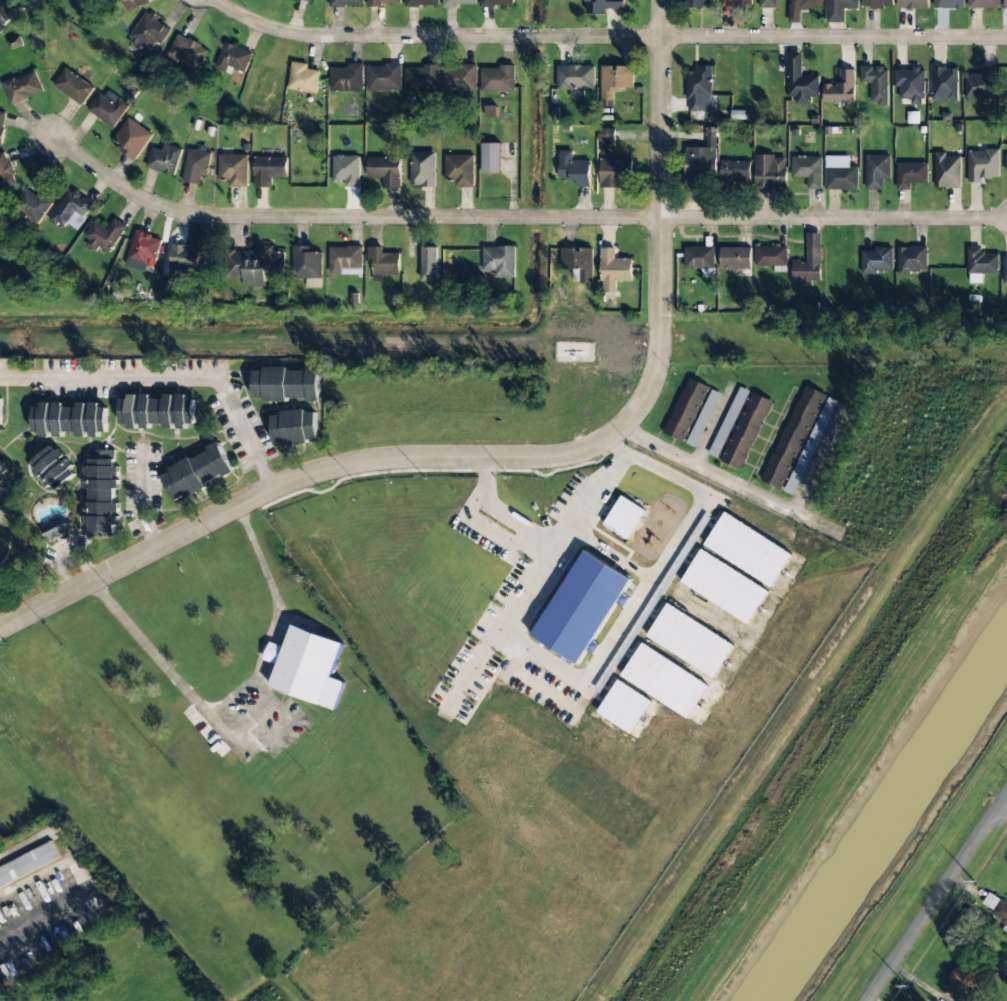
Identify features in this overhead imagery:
building: (307, 0)
building: (381, 2)
building: (736, 2)
building: (136, 3)
building: (346, 3)
building: (421, 3)
building: (457, 3)
building: (497, 3)
building: (695, 3)
building: (877, 3)
building: (948, 3)
building: (767, 4)
building: (912, 4)
building: (984, 4)
building: (1005, 4)
building: (604, 5)
building: (838, 9)
building: (5, 15)
building: (795, 15)
building: (148, 32)
road: (610, 36)
building: (14, 42)
building: (187, 52)
building: (234, 58)
building: (383, 77)
building: (303, 78)
building: (347, 78)
building: (440, 78)
building: (497, 79)
building: (575, 79)
building: (800, 81)
building: (614, 82)
building: (876, 84)
building: (910, 84)
building: (945, 84)
building: (981, 84)
building: (73, 86)
building: (23, 87)
building: (840, 88)
building: (699, 89)
building: (107, 108)
building: (490, 110)
building: (2, 125)
building: (132, 139)
building: (491, 158)
building: (164, 159)
building: (700, 160)
building: (611, 163)
building: (1006, 163)
building: (982, 165)
building: (196, 166)
building: (422, 168)
building: (233, 169)
building: (574, 169)
building: (268, 170)
building: (346, 170)
building: (385, 170)
building: (459, 170)
building: (808, 170)
building: (735, 171)
building: (770, 171)
building: (876, 171)
building: (947, 171)
building: (6, 173)
building: (840, 174)
building: (910, 174)
building: (32, 202)
building: (70, 208)
road: (518, 216)
building: (104, 235)
building: (144, 249)
building: (771, 256)
building: (735, 258)
building: (699, 259)
building: (912, 259)
building: (184, 260)
building: (346, 260)
building: (499, 260)
building: (877, 260)
building: (383, 261)
building: (307, 262)
building: (809, 262)
building: (429, 263)
building: (578, 264)
building: (981, 264)
building: (257, 266)
building: (1005, 269)
building: (613, 270)
building: (164, 292)
road: (171, 375)
building: (286, 384)
building: (686, 409)
building: (0, 411)
building: (157, 411)
building: (703, 418)
building: (69, 419)
building: (295, 427)
building: (746, 431)
building: (793, 437)
building: (810, 446)
road: (514, 457)
building: (52, 469)
building: (3, 472)
building: (197, 473)
building: (101, 491)
building: (624, 517)
building: (57, 532)
building: (0, 545)
building: (0, 547)
building: (748, 549)
building: (724, 586)
building: (582, 607)
building: (690, 640)
building: (306, 667)
building: (648, 670)
road: (1005, 804)
building: (28, 865)
road: (937, 899)
building: (995, 906)
building: (963, 978)

